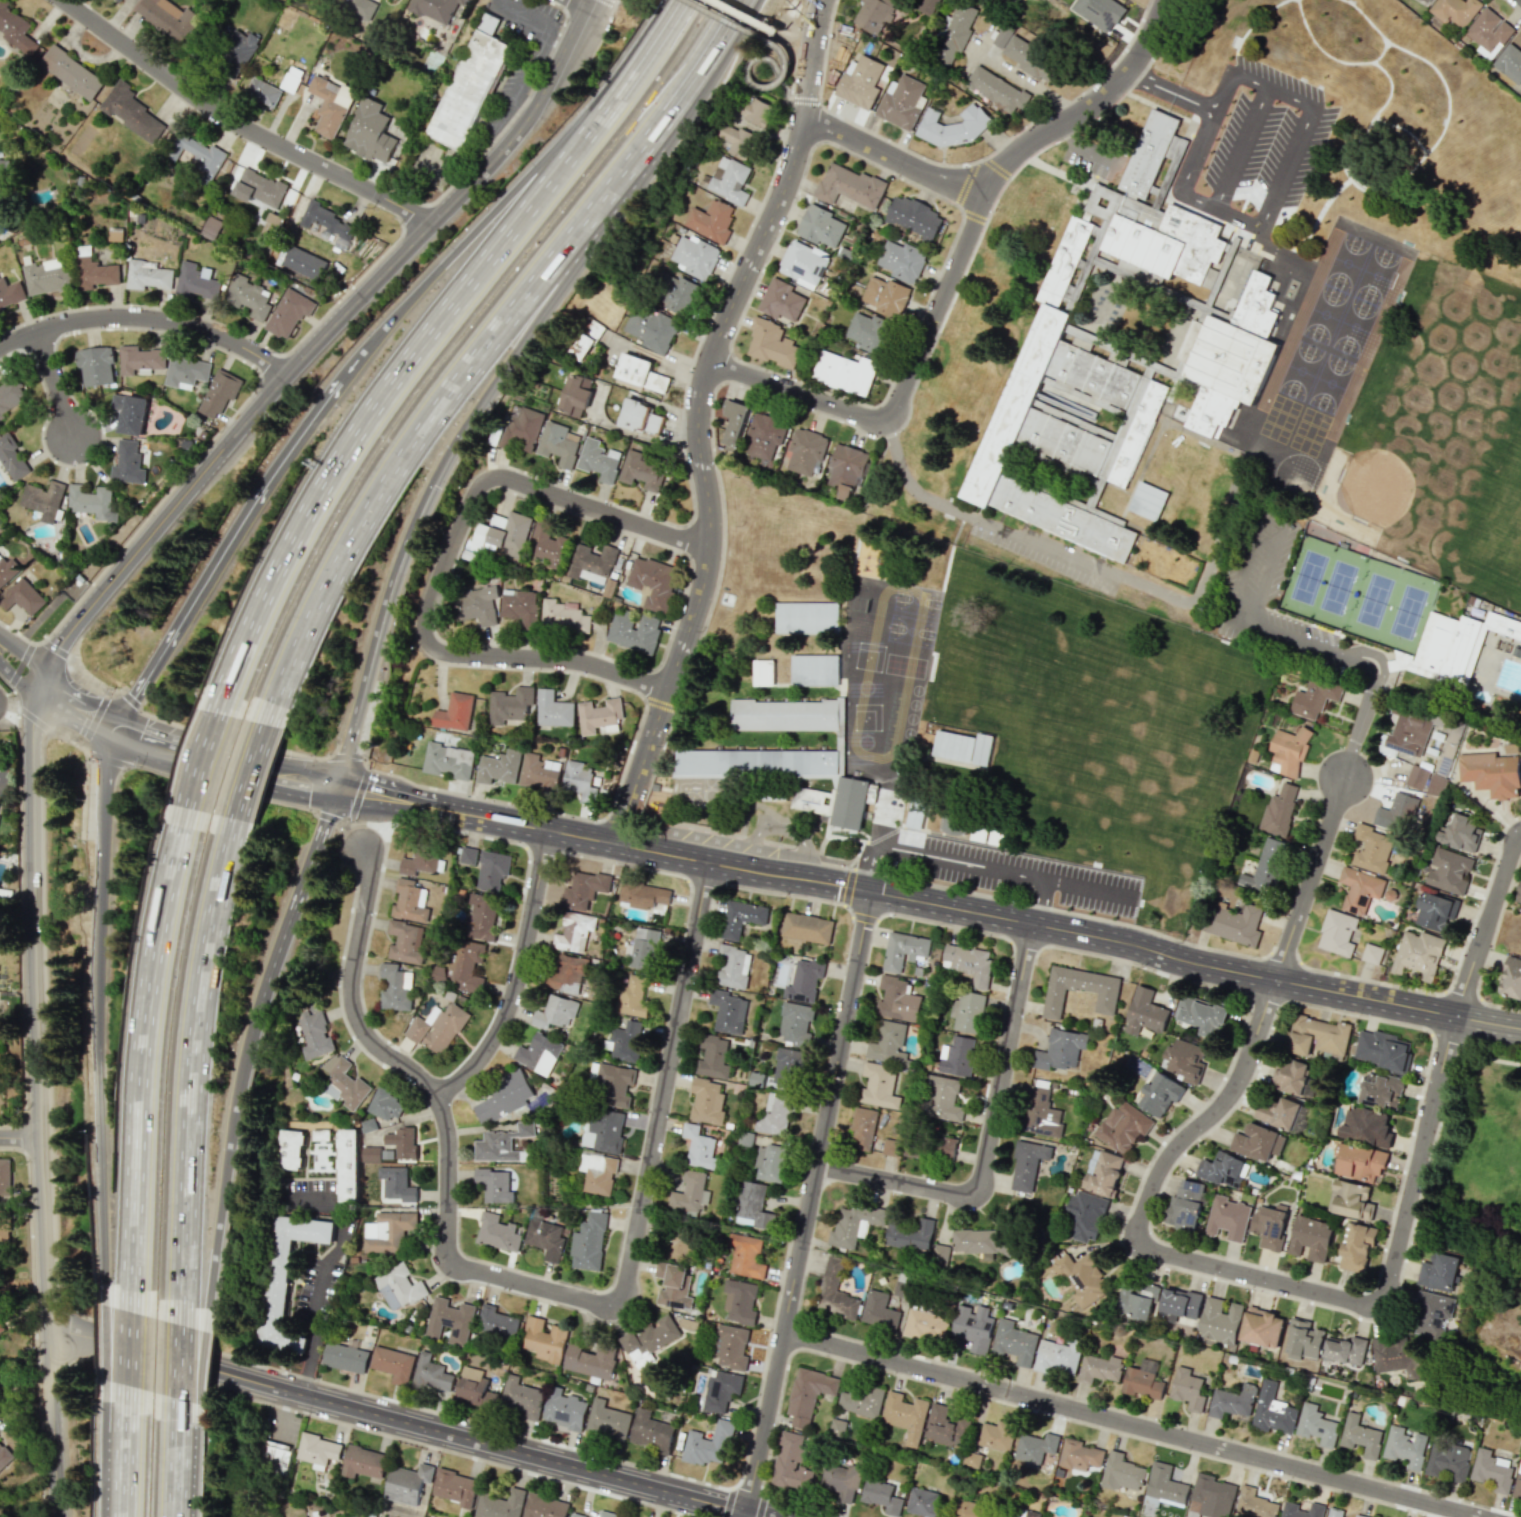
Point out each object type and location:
building: (119, 0)
building: (465, 0)
building: (1424, 2)
road: (616, 3)
road: (581, 4)
building: (928, 6)
building: (360, 8)
building: (434, 9)
building: (1455, 10)
building: (1099, 12)
building: (874, 14)
building: (167, 18)
road: (673, 21)
building: (15, 28)
road: (720, 29)
road: (757, 32)
building: (953, 33)
building: (1489, 33)
road: (560, 41)
road: (543, 47)
building: (237, 52)
building: (1023, 53)
road: (758, 57)
building: (1510, 63)
building: (71, 72)
building: (291, 79)
building: (860, 82)
road: (1026, 83)
building: (468, 88)
building: (996, 89)
road: (1221, 89)
building: (263, 91)
road: (1168, 97)
road: (788, 99)
road: (803, 99)
building: (902, 102)
building: (329, 104)
building: (754, 110)
building: (133, 114)
road: (240, 126)
building: (953, 127)
building: (369, 131)
building: (736, 140)
road: (1236, 141)
road: (1264, 153)
building: (197, 154)
parking lot: (1087, 154)
road: (1195, 155)
road: (892, 156)
road: (1298, 166)
building: (3, 179)
building: (729, 180)
building: (849, 186)
flagpole: (1074, 188)
building: (259, 189)
road: (455, 197)
road: (506, 198)
building: (913, 217)
building: (1161, 217)
building: (710, 221)
building: (821, 226)
building: (210, 228)
park: (1360, 256)
building: (694, 257)
building: (901, 261)
building: (303, 263)
building: (802, 263)
road: (954, 266)
park: (1390, 269)
building: (95, 273)
building: (147, 276)
park: (1416, 276)
building: (45, 277)
building: (195, 282)
building: (10, 293)
building: (678, 295)
building: (247, 296)
building: (885, 296)
building: (1070, 298)
building: (781, 300)
park: (1339, 307)
building: (288, 313)
road: (147, 316)
park: (1368, 320)
building: (650, 328)
building: (869, 332)
building: (583, 339)
building: (771, 344)
road: (417, 349)
building: (1232, 357)
building: (140, 359)
park: (1314, 364)
building: (95, 366)
road: (464, 370)
building: (185, 371)
building: (844, 372)
building: (640, 373)
park: (1344, 377)
road: (52, 383)
building: (220, 393)
building: (10, 394)
building: (575, 396)
road: (477, 404)
building: (129, 413)
park: (1291, 415)
building: (640, 417)
road: (696, 418)
building: (1065, 423)
building: (734, 424)
park: (1321, 428)
building: (517, 429)
building: (764, 436)
building: (556, 444)
building: (805, 451)
building: (12, 458)
building: (598, 460)
building: (127, 463)
building: (846, 469)
building: (642, 471)
road: (916, 493)
building: (43, 500)
building: (1147, 501)
building: (92, 502)
road: (158, 523)
road: (228, 536)
building: (497, 536)
building: (546, 545)
road: (1058, 550)
road: (1272, 555)
road: (1250, 557)
road: (444, 561)
building: (591, 563)
building: (6, 570)
road: (1207, 575)
park: (1307, 576)
building: (652, 581)
park: (1337, 587)
building: (22, 596)
park: (1374, 599)
building: (476, 605)
road: (1257, 607)
park: (1407, 611)
building: (562, 617)
building: (806, 618)
building: (634, 632)
building: (1453, 645)
road: (1350, 655)
road: (28, 657)
building: (814, 670)
building: (762, 672)
road: (20, 677)
building: (1314, 697)
building: (510, 705)
building: (553, 709)
building: (454, 712)
building: (784, 715)
road: (95, 717)
building: (599, 717)
road: (33, 720)
park: (1088, 721)
road: (897, 743)
building: (962, 747)
road: (188, 748)
building: (1288, 751)
road: (208, 755)
road: (105, 758)
building: (448, 760)
road: (243, 766)
building: (499, 767)
building: (538, 771)
building: (1491, 773)
building: (3, 776)
building: (785, 777)
building: (1416, 777)
building: (579, 780)
building: (1436, 785)
road: (356, 794)
building: (1281, 810)
road: (443, 811)
building: (1395, 811)
building: (915, 814)
building: (952, 825)
building: (1461, 833)
building: (1371, 849)
building: (468, 855)
road: (382, 858)
road: (959, 861)
building: (419, 862)
road: (709, 864)
parking lot: (969, 864)
building: (1265, 867)
building: (491, 870)
building: (1449, 871)
road: (1308, 878)
road: (301, 886)
building: (1359, 889)
building: (583, 890)
building: (643, 894)
building: (1519, 896)
building: (409, 901)
road: (1036, 901)
road: (952, 908)
building: (1435, 911)
building: (481, 917)
building: (741, 918)
building: (1233, 923)
road: (1486, 924)
building: (807, 928)
road: (344, 930)
building: (574, 932)
building: (1337, 933)
building: (404, 942)
building: (645, 948)
building: (903, 950)
building: (1371, 953)
building: (1418, 954)
building: (969, 963)
building: (462, 965)
building: (732, 967)
building: (565, 973)
building: (1511, 978)
road: (520, 979)
building: (802, 979)
road: (1276, 980)
building: (394, 987)
building: (1079, 990)
building: (632, 997)
building: (893, 999)
road: (32, 1004)
road: (258, 1004)
road: (91, 1007)
building: (727, 1011)
building: (556, 1012)
building: (967, 1012)
building: (1144, 1012)
building: (1201, 1015)
building: (794, 1023)
building: (436, 1028)
building: (313, 1032)
building: (1317, 1036)
building: (626, 1041)
building: (887, 1044)
building: (1382, 1049)
building: (1060, 1051)
building: (539, 1053)
road: (1484, 1053)
building: (715, 1056)
building: (956, 1057)
building: (1185, 1060)
road: (146, 1064)
building: (786, 1066)
road: (183, 1073)
building: (1291, 1077)
building: (343, 1082)
building: (612, 1083)
road: (664, 1086)
building: (878, 1086)
building: (1381, 1091)
building: (1159, 1094)
building: (941, 1098)
building: (706, 1101)
building: (385, 1104)
building: (492, 1107)
building: (776, 1112)
building: (1041, 1113)
building: (1279, 1113)
road: (445, 1121)
building: (1123, 1126)
building: (1366, 1126)
building: (862, 1128)
building: (605, 1130)
building: (320, 1134)
road: (19, 1137)
road: (989, 1137)
building: (402, 1142)
building: (1257, 1142)
building: (501, 1143)
building: (699, 1147)
building: (890, 1147)
building: (944, 1147)
building: (913, 1148)
building: (288, 1149)
building: (370, 1154)
park: (1482, 1158)
building: (1359, 1162)
building: (770, 1163)
building: (348, 1164)
building: (1027, 1164)
building: (1223, 1170)
building: (1103, 1172)
road: (218, 1175)
building: (4, 1176)
building: (394, 1184)
building: (494, 1185)
road: (308, 1197)
building: (1351, 1199)
road: (810, 1205)
building: (1185, 1205)
building: (752, 1206)
building: (1085, 1217)
building: (1228, 1218)
building: (854, 1225)
building: (1269, 1225)
building: (3, 1226)
building: (388, 1231)
building: (497, 1232)
building: (910, 1234)
building: (547, 1237)
building: (1310, 1238)
building: (982, 1241)
building: (589, 1242)
building: (678, 1247)
building: (1357, 1248)
building: (940, 1254)
building: (746, 1256)
road: (329, 1258)
building: (1438, 1272)
building: (283, 1274)
building: (831, 1275)
road: (1254, 1277)
building: (1083, 1279)
building: (401, 1282)
building: (673, 1285)
building: (1136, 1300)
building: (739, 1301)
building: (1179, 1304)
building: (879, 1311)
building: (1431, 1314)
building: (450, 1321)
building: (1219, 1321)
building: (496, 1323)
building: (925, 1325)
building: (973, 1326)
building: (1, 1327)
building: (1261, 1328)
building: (650, 1337)
road: (179, 1340)
building: (544, 1340)
building: (1303, 1340)
building: (1014, 1342)
building: (730, 1347)
building: (1345, 1350)
road: (121, 1352)
building: (345, 1357)
building: (1057, 1357)
building: (1396, 1357)
road: (304, 1360)
building: (590, 1361)
road: (134, 1362)
building: (393, 1363)
road: (173, 1364)
building: (1099, 1368)
road: (195, 1371)
building: (431, 1374)
building: (1142, 1380)
building: (474, 1388)
building: (1187, 1389)
building: (720, 1390)
building: (808, 1394)
building: (522, 1397)
building: (860, 1400)
road: (1010, 1402)
building: (1232, 1403)
building: (564, 1409)
road: (281, 1410)
building: (1272, 1410)
building: (905, 1416)
building: (607, 1420)
road: (48, 1422)
road: (403, 1422)
road: (1136, 1424)
building: (1316, 1425)
building: (946, 1426)
building: (650, 1431)
building: (997, 1435)
building: (1360, 1436)
building: (707, 1444)
building: (1404, 1447)
building: (1035, 1448)
building: (317, 1450)
building: (1079, 1455)
building: (4, 1456)
road: (173, 1461)
building: (362, 1462)
building: (1447, 1462)
building: (790, 1463)
road: (130, 1464)
road: (186, 1465)
building: (1122, 1473)
building: (842, 1480)
building: (406, 1483)
building: (1518, 1483)
building: (1164, 1487)
building: (455, 1488)
road: (744, 1488)
building: (882, 1497)
building: (1211, 1497)
building: (924, 1503)
building: (500, 1504)
building: (1253, 1504)
building: (544, 1506)
building: (1290, 1507)
building: (968, 1509)
building: (1334, 1512)
building: (1019, 1513)
building: (606, 1514)
building: (575, 1515)
building: (1359, 1516)

